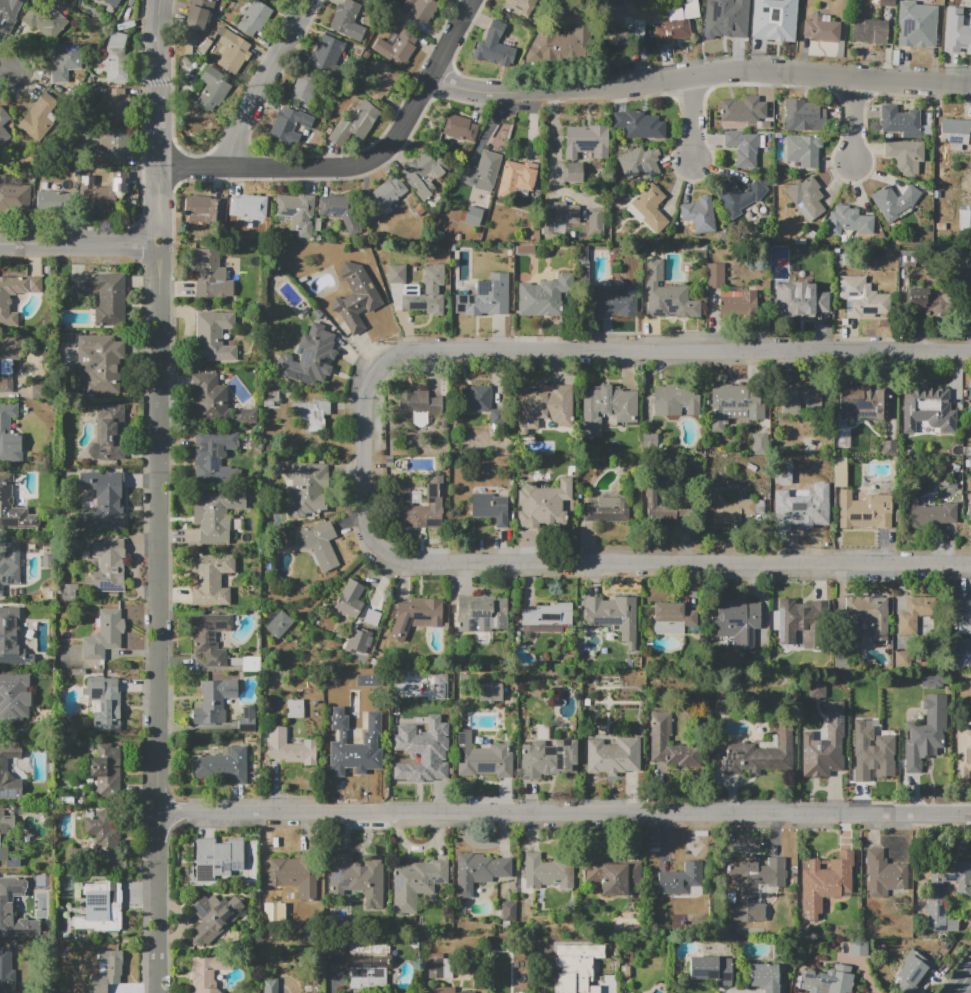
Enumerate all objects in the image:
building: (275, 0)
building: (112, 2)
building: (374, 2)
building: (888, 3)
building: (952, 4)
building: (522, 7)
building: (419, 12)
road: (303, 13)
building: (8, 14)
building: (199, 14)
building: (254, 17)
building: (45, 19)
building: (727, 20)
building: (346, 21)
building: (677, 23)
building: (774, 23)
building: (617, 26)
building: (822, 29)
building: (868, 30)
building: (918, 33)
building: (959, 36)
building: (562, 44)
building: (493, 46)
building: (397, 47)
building: (232, 50)
building: (326, 52)
building: (117, 57)
building: (64, 62)
road: (7, 66)
road: (699, 75)
building: (382, 80)
building: (212, 88)
building: (304, 89)
road: (257, 97)
building: (116, 104)
building: (743, 110)
building: (803, 114)
building: (39, 118)
road: (160, 120)
road: (691, 120)
road: (853, 120)
building: (903, 122)
building: (284, 124)
building: (355, 124)
building: (639, 124)
building: (458, 127)
building: (4, 129)
building: (953, 135)
building: (586, 141)
building: (109, 145)
building: (744, 147)
building: (803, 149)
road: (555, 154)
building: (905, 155)
building: (639, 162)
road: (362, 165)
building: (483, 171)
building: (572, 173)
building: (423, 174)
building: (430, 177)
building: (516, 178)
building: (103, 192)
building: (387, 193)
building: (739, 197)
building: (806, 197)
building: (52, 199)
building: (14, 201)
building: (893, 201)
building: (248, 206)
building: (651, 207)
building: (203, 208)
building: (340, 211)
building: (296, 213)
building: (565, 213)
building: (699, 214)
building: (473, 216)
building: (964, 216)
building: (594, 220)
building: (547, 221)
building: (848, 223)
road: (79, 242)
building: (906, 258)
building: (211, 274)
building: (396, 274)
building: (426, 292)
building: (732, 294)
building: (103, 295)
building: (356, 296)
building: (544, 296)
building: (668, 296)
building: (486, 297)
building: (863, 299)
building: (969, 299)
building: (614, 300)
building: (800, 300)
building: (928, 302)
building: (4, 303)
building: (214, 336)
road: (675, 351)
building: (309, 357)
building: (8, 360)
building: (102, 363)
building: (675, 399)
building: (800, 399)
building: (215, 401)
building: (864, 401)
building: (419, 402)
building: (483, 403)
building: (735, 403)
building: (545, 407)
building: (607, 408)
building: (928, 409)
building: (312, 413)
building: (109, 435)
building: (8, 436)
building: (648, 440)
building: (888, 447)
building: (214, 456)
building: (822, 465)
building: (840, 471)
building: (307, 487)
building: (110, 501)
building: (543, 504)
building: (419, 506)
building: (13, 507)
building: (490, 507)
building: (658, 507)
building: (733, 507)
building: (607, 510)
building: (864, 510)
building: (800, 511)
building: (969, 511)
building: (931, 514)
building: (215, 515)
building: (320, 544)
road: (574, 562)
building: (10, 566)
building: (107, 567)
building: (211, 578)
building: (68, 592)
building: (351, 599)
building: (610, 611)
building: (915, 613)
building: (416, 615)
building: (481, 615)
building: (964, 615)
building: (867, 616)
road: (157, 617)
building: (548, 618)
building: (668, 618)
building: (737, 621)
building: (797, 622)
building: (278, 624)
building: (356, 633)
building: (103, 635)
building: (210, 637)
building: (11, 639)
building: (962, 653)
building: (903, 660)
building: (251, 663)
building: (931, 679)
building: (439, 685)
building: (816, 688)
building: (488, 691)
building: (14, 697)
building: (214, 701)
building: (103, 702)
building: (295, 708)
building: (377, 718)
building: (247, 719)
building: (925, 733)
building: (659, 739)
building: (823, 744)
building: (290, 747)
building: (422, 750)
building: (962, 750)
building: (843, 751)
building: (871, 753)
building: (761, 754)
building: (362, 755)
building: (613, 756)
building: (484, 757)
building: (549, 759)
building: (223, 764)
building: (105, 769)
building: (9, 773)
road: (565, 814)
road: (969, 822)
building: (105, 839)
building: (6, 840)
building: (226, 858)
building: (480, 871)
building: (548, 872)
building: (884, 873)
building: (295, 874)
building: (614, 875)
building: (356, 877)
building: (681, 879)
building: (825, 881)
building: (416, 883)
building: (752, 886)
building: (936, 897)
building: (107, 898)
building: (7, 907)
building: (507, 911)
building: (216, 916)
building: (607, 945)
building: (858, 948)
building: (368, 965)
building: (439, 966)
building: (711, 969)
building: (107, 970)
road: (953, 970)
building: (6, 971)
building: (912, 972)
building: (203, 975)
building: (767, 977)
building: (589, 978)
road: (865, 978)
road: (332, 980)
building: (827, 980)
road: (964, 984)
building: (270, 986)
road: (609, 986)
building: (443, 989)
road: (725, 992)

